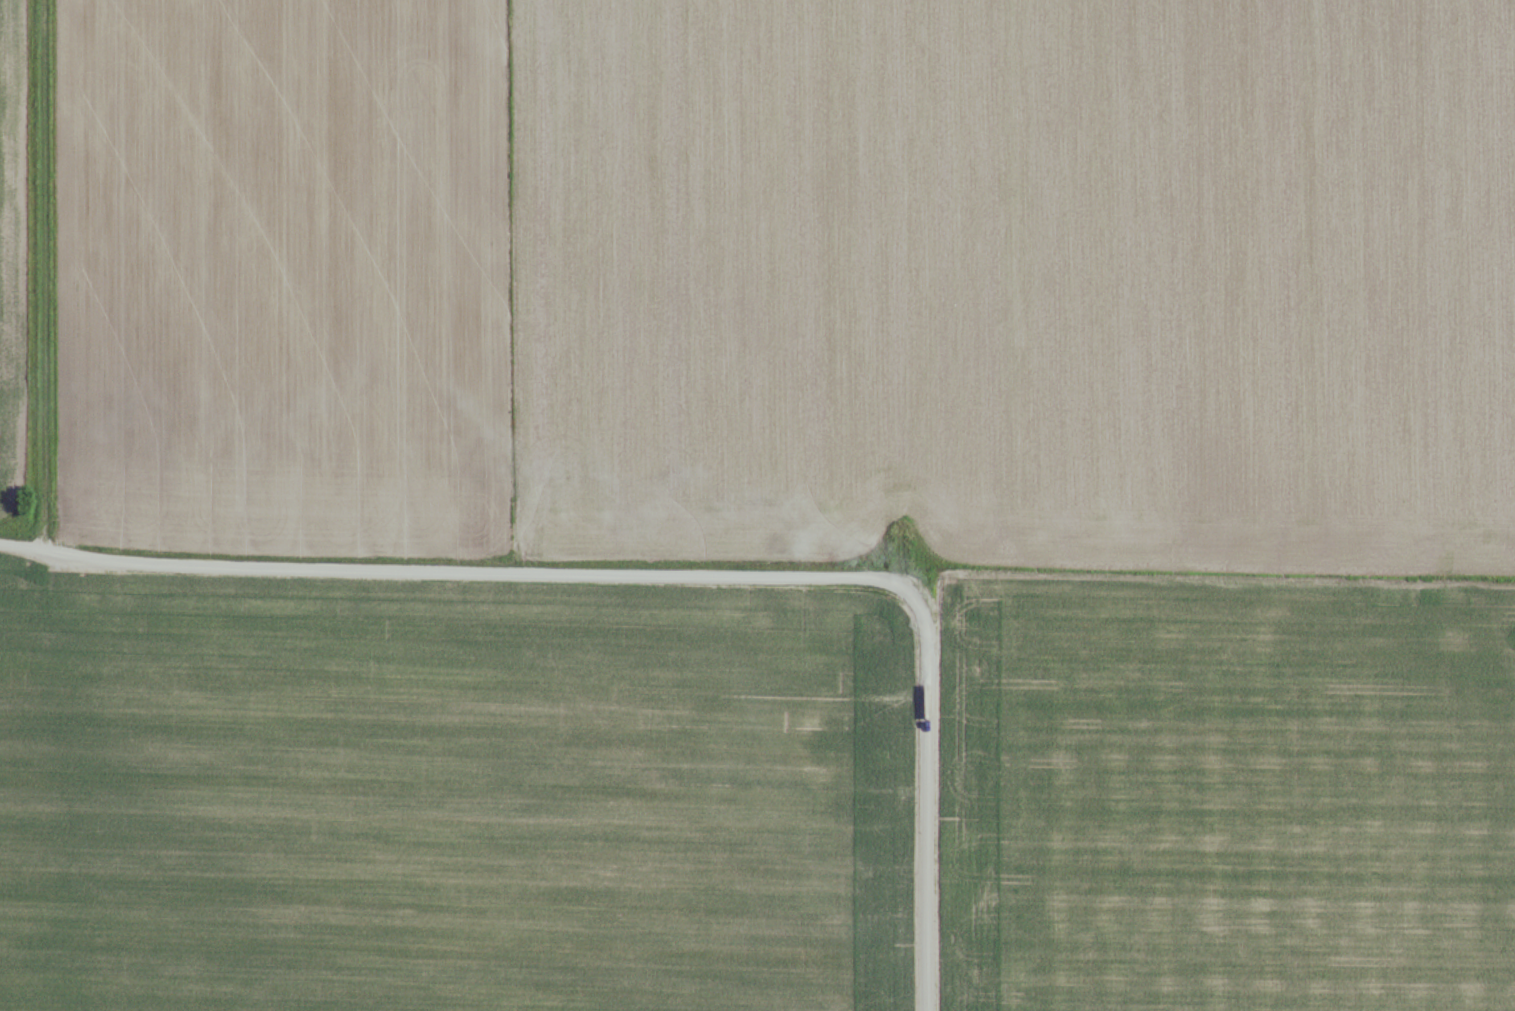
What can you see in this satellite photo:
road: (22, 546)
road: (416, 568)

